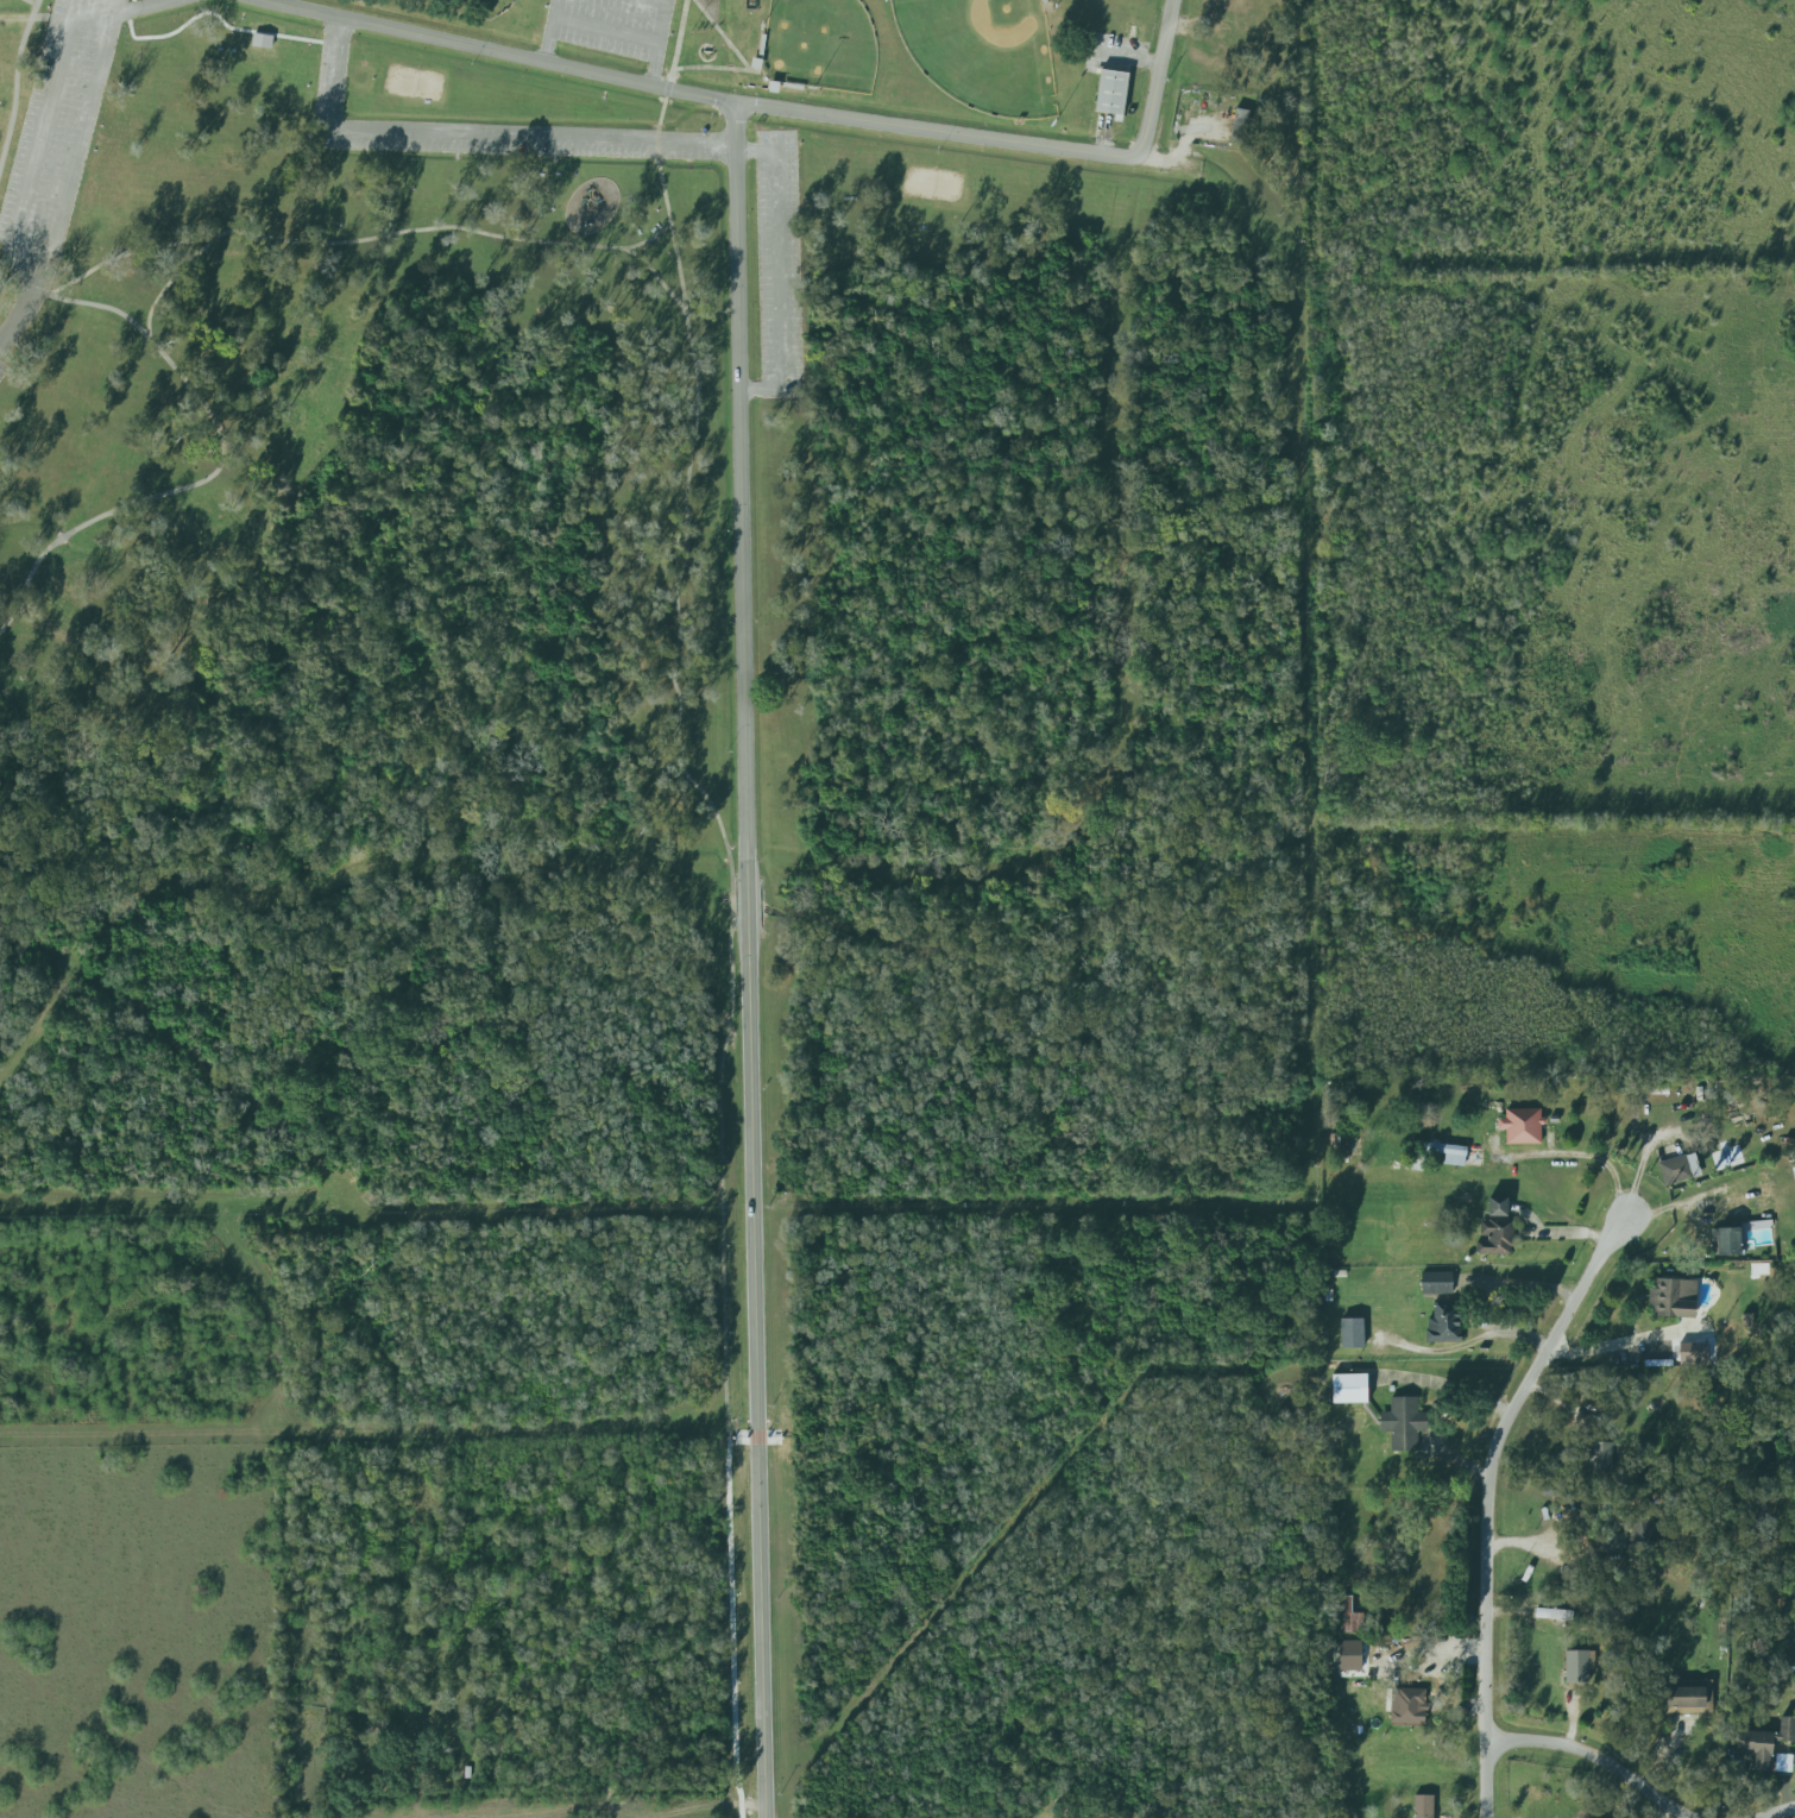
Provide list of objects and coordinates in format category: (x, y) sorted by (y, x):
road: (32, 2)
road: (101, 14)
road: (14, 18)
road: (549, 30)
road: (605, 31)
road: (722, 36)
building: (262, 40)
road: (657, 42)
park: (820, 45)
park: (982, 52)
road: (716, 68)
road: (14, 81)
park: (414, 83)
building: (1111, 93)
road: (782, 108)
building: (1240, 126)
road: (479, 131)
park: (934, 187)
road: (5, 238)
road: (648, 238)
road: (355, 241)
road: (36, 246)
road: (122, 254)
road: (781, 272)
road: (656, 275)
road: (30, 300)
road: (223, 452)
road: (731, 897)
road: (748, 960)
building: (1655, 1087)
building: (1522, 1126)
road: (1579, 1153)
building: (1447, 1155)
building: (1679, 1169)
building: (1766, 1196)
road: (1681, 1206)
building: (1498, 1208)
building: (1495, 1238)
building: (1725, 1243)
building: (1436, 1283)
building: (1673, 1298)
building: (1443, 1323)
building: (1352, 1333)
road: (1627, 1341)
road: (1454, 1389)
building: (1403, 1416)
building: (1600, 1458)
road: (1488, 1499)
building: (1639, 1530)
road: (1548, 1539)
building: (1554, 1615)
building: (1344, 1616)
building: (1346, 1655)
building: (1577, 1666)
building: (1687, 1698)
building: (1407, 1706)
building: (1764, 1744)
road: (1593, 1756)
building: (1423, 1806)
road: (563, 1810)
building: (1073, 1813)
road: (1781, 1813)

